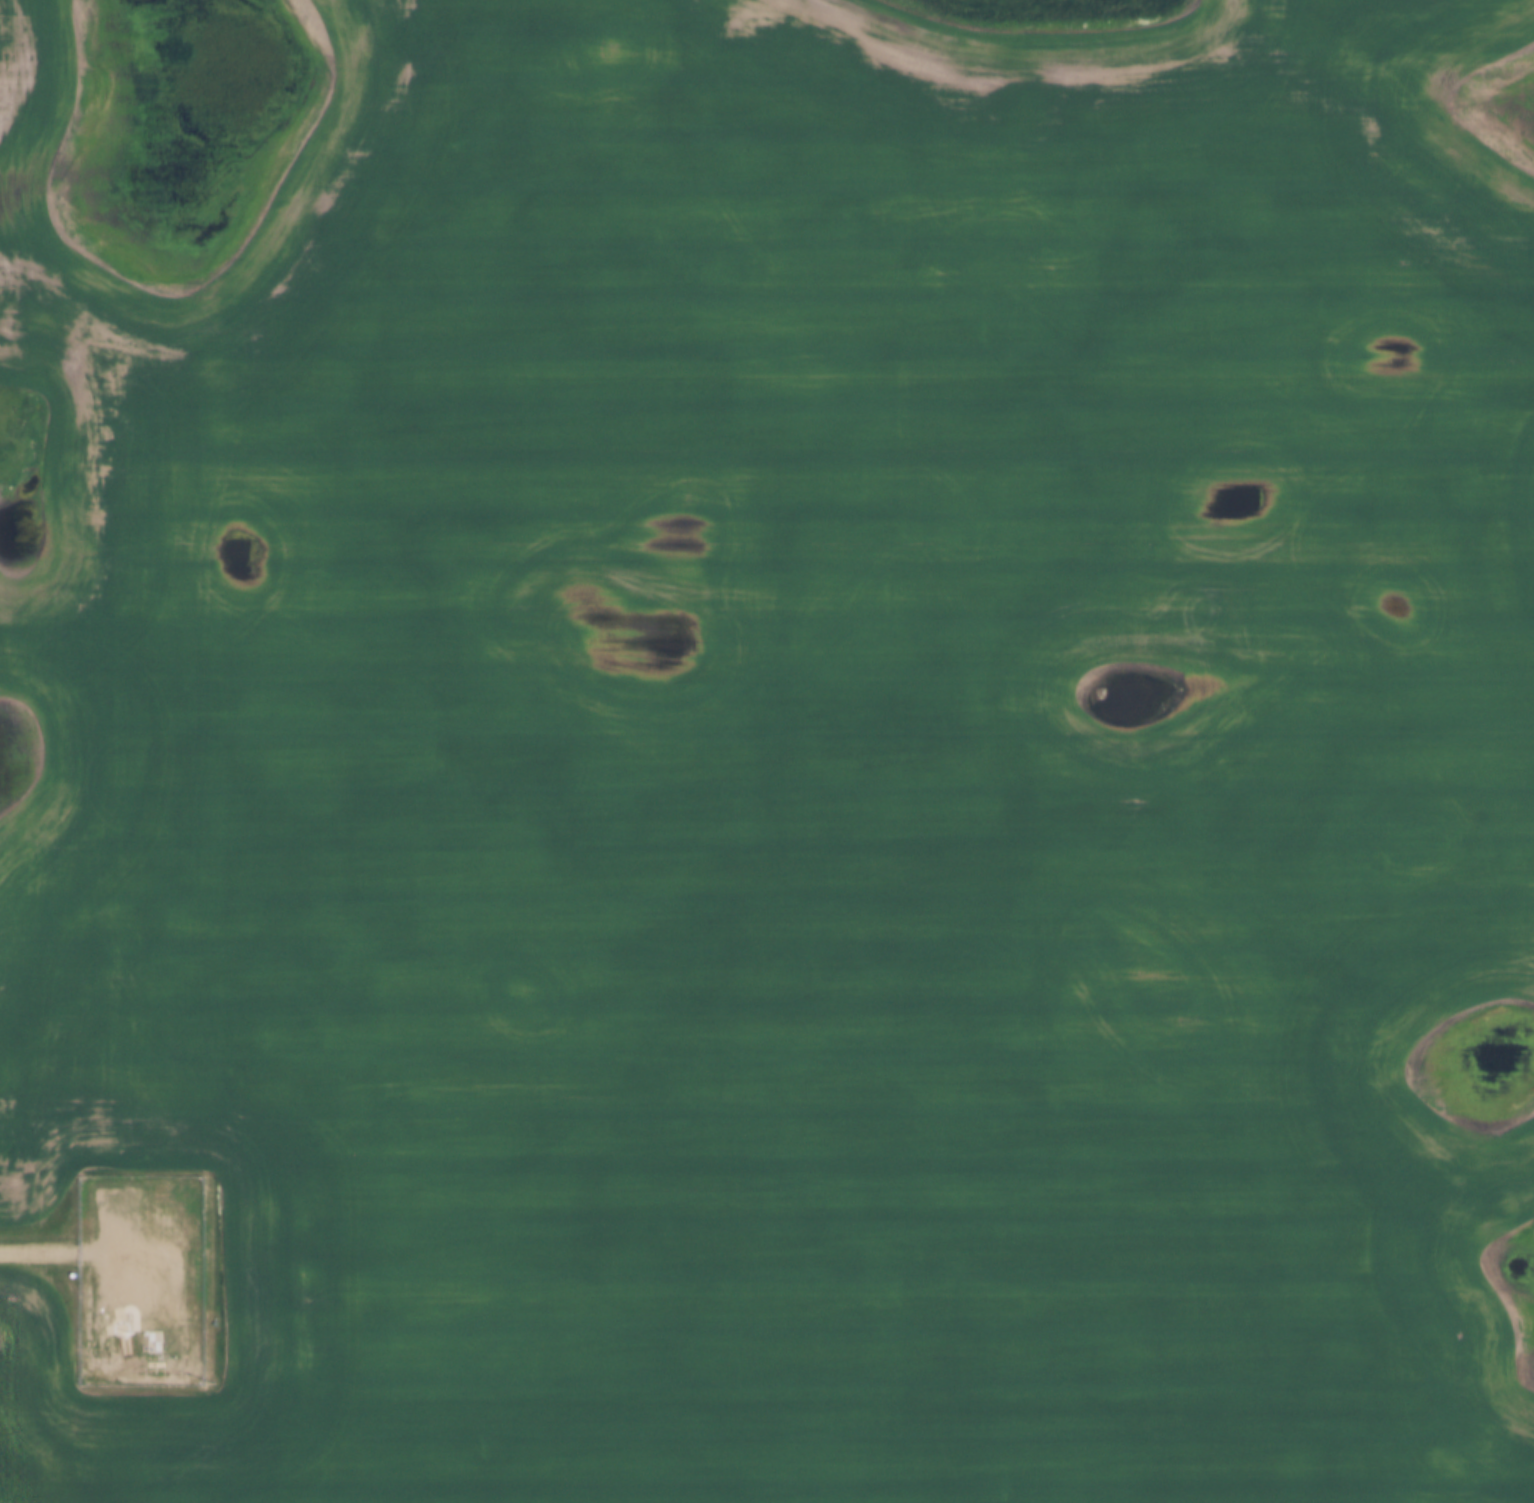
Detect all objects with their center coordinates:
road: (72, 1252)

